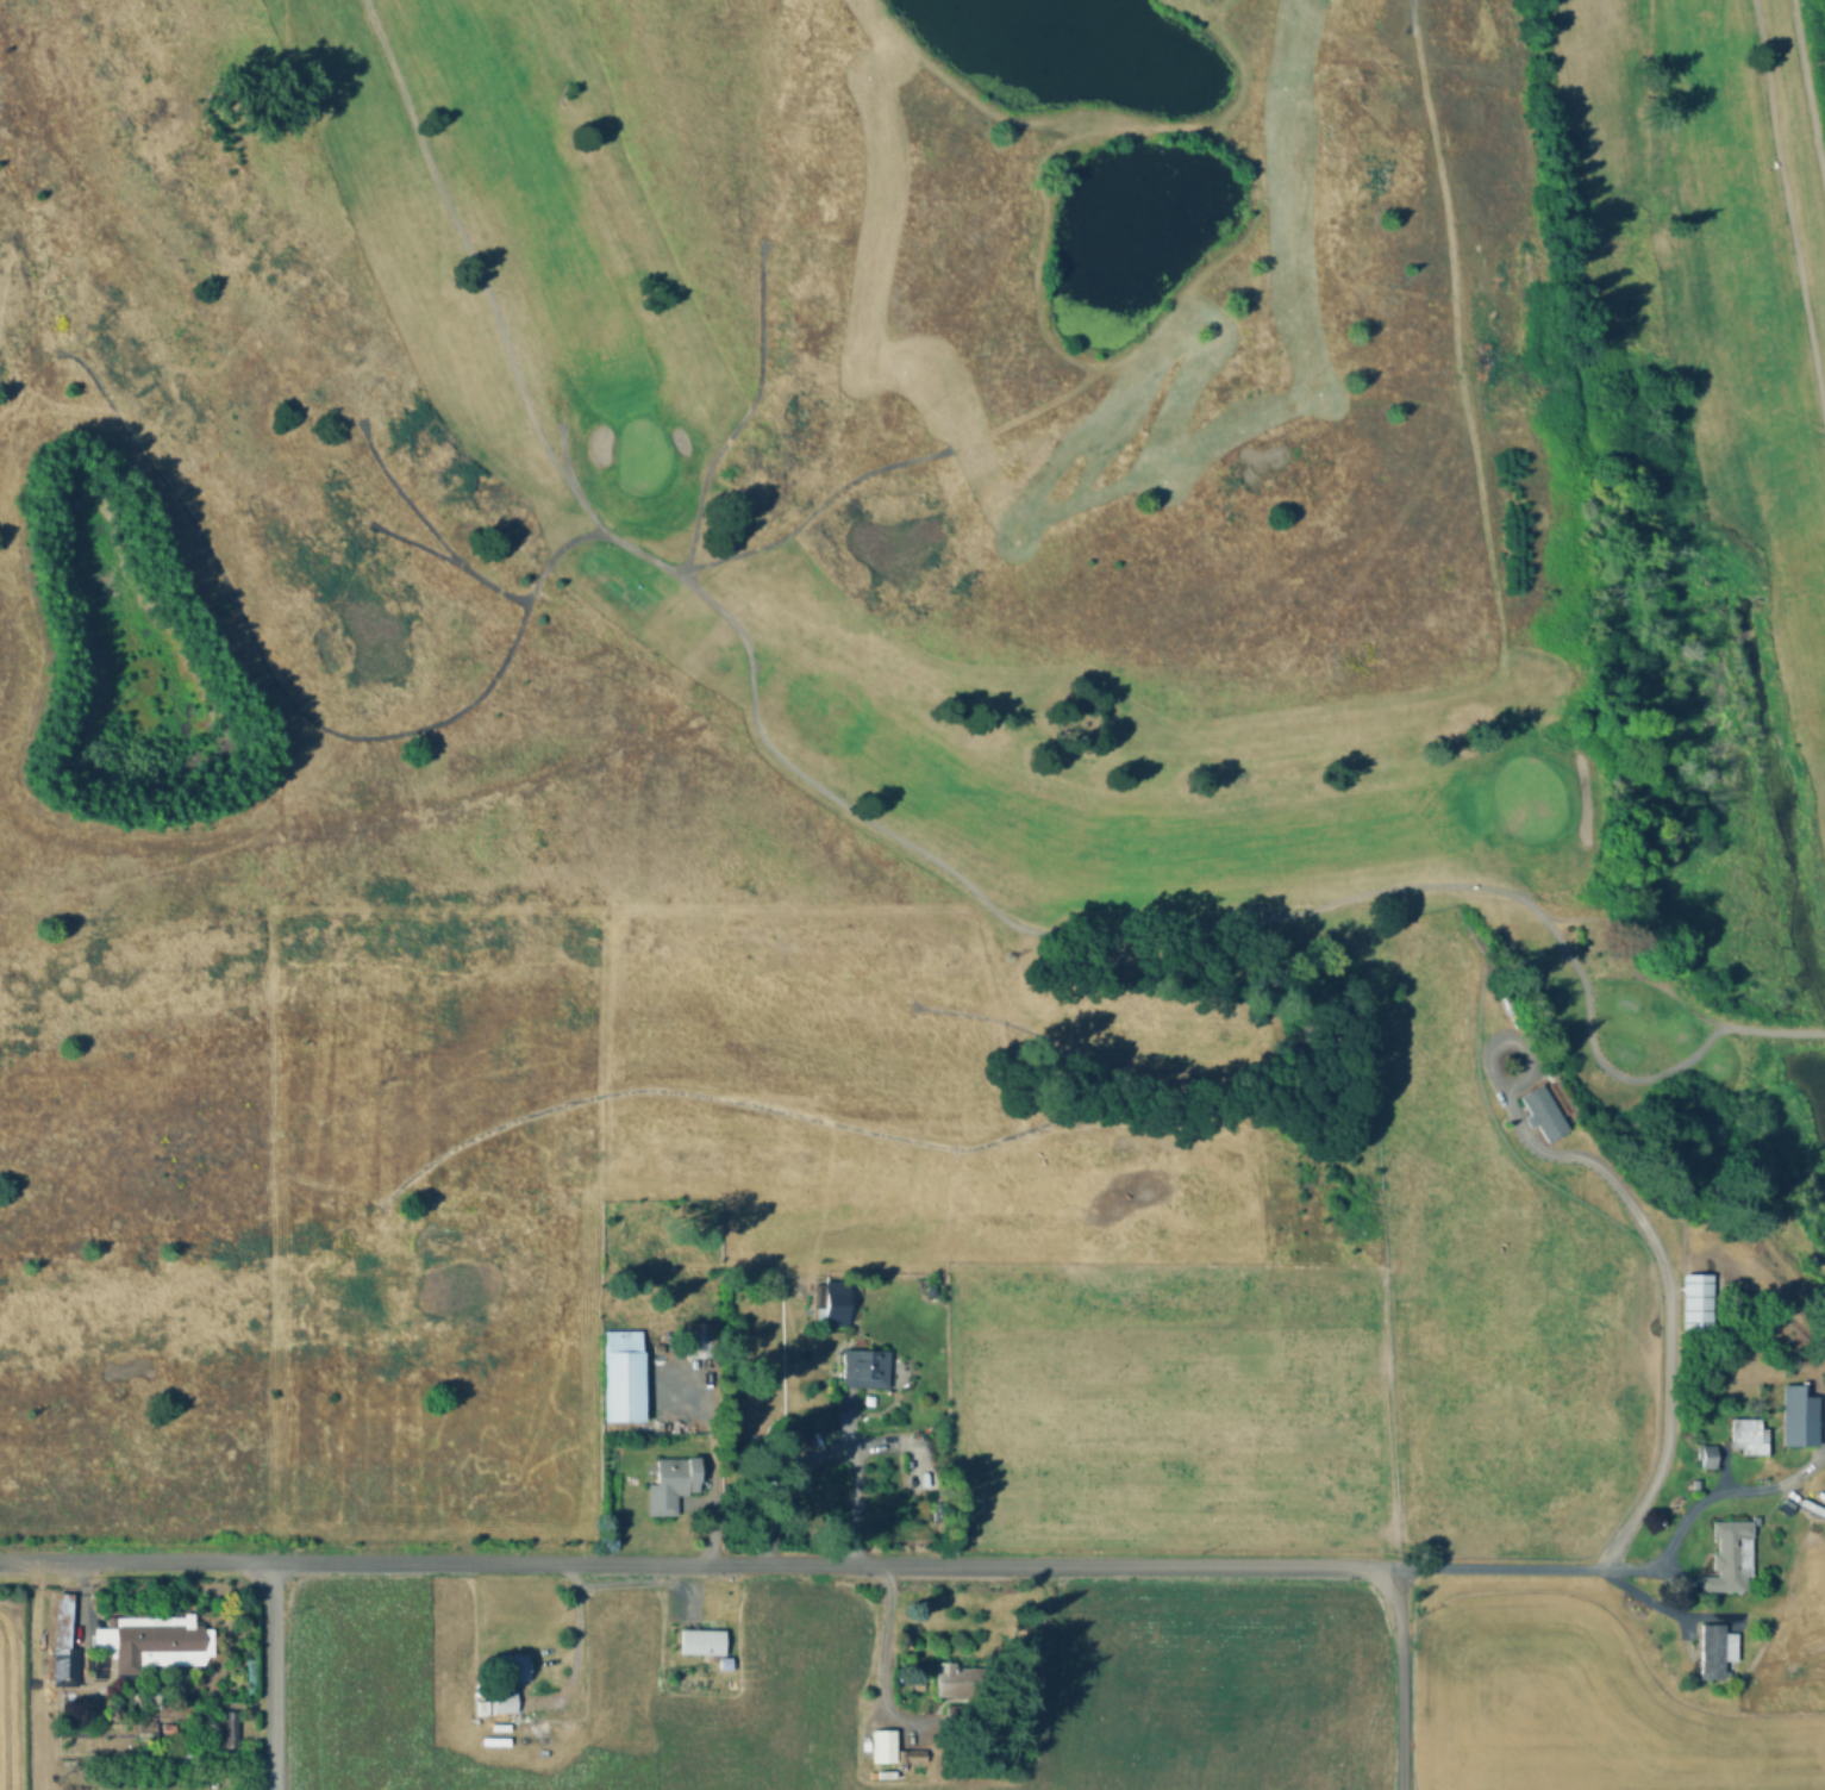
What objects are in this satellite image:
building: (1167, 0)
road: (1807, 100)
road: (1788, 210)
road: (477, 270)
road: (1462, 335)
road: (1411, 399)
road: (746, 408)
road: (562, 454)
park: (638, 454)
road: (810, 512)
road: (425, 524)
road: (411, 541)
park: (870, 709)
road: (810, 779)
park: (1526, 796)
road: (1625, 963)
building: (1542, 1116)
building: (1695, 1301)
building: (836, 1302)
road: (1665, 1322)
building: (700, 1339)
building: (658, 1348)
building: (864, 1367)
building: (624, 1376)
building: (1798, 1423)
building: (1746, 1440)
building: (1706, 1462)
building: (671, 1483)
road: (787, 1486)
road: (850, 1487)
road: (1700, 1499)
building: (1783, 1510)
building: (1730, 1553)
road: (699, 1560)
road: (626, 1582)
road: (1662, 1608)
road: (574, 1619)
building: (60, 1626)
building: (699, 1638)
building: (156, 1641)
road: (882, 1647)
building: (1715, 1657)
road: (273, 1669)
building: (67, 1670)
building: (512, 1672)
road: (1398, 1679)
building: (961, 1690)
crop: (1037, 1695)
crop: (10, 1698)
building: (502, 1707)
building: (227, 1727)
building: (148, 1730)
building: (883, 1746)
building: (911, 1755)
road: (274, 1785)

